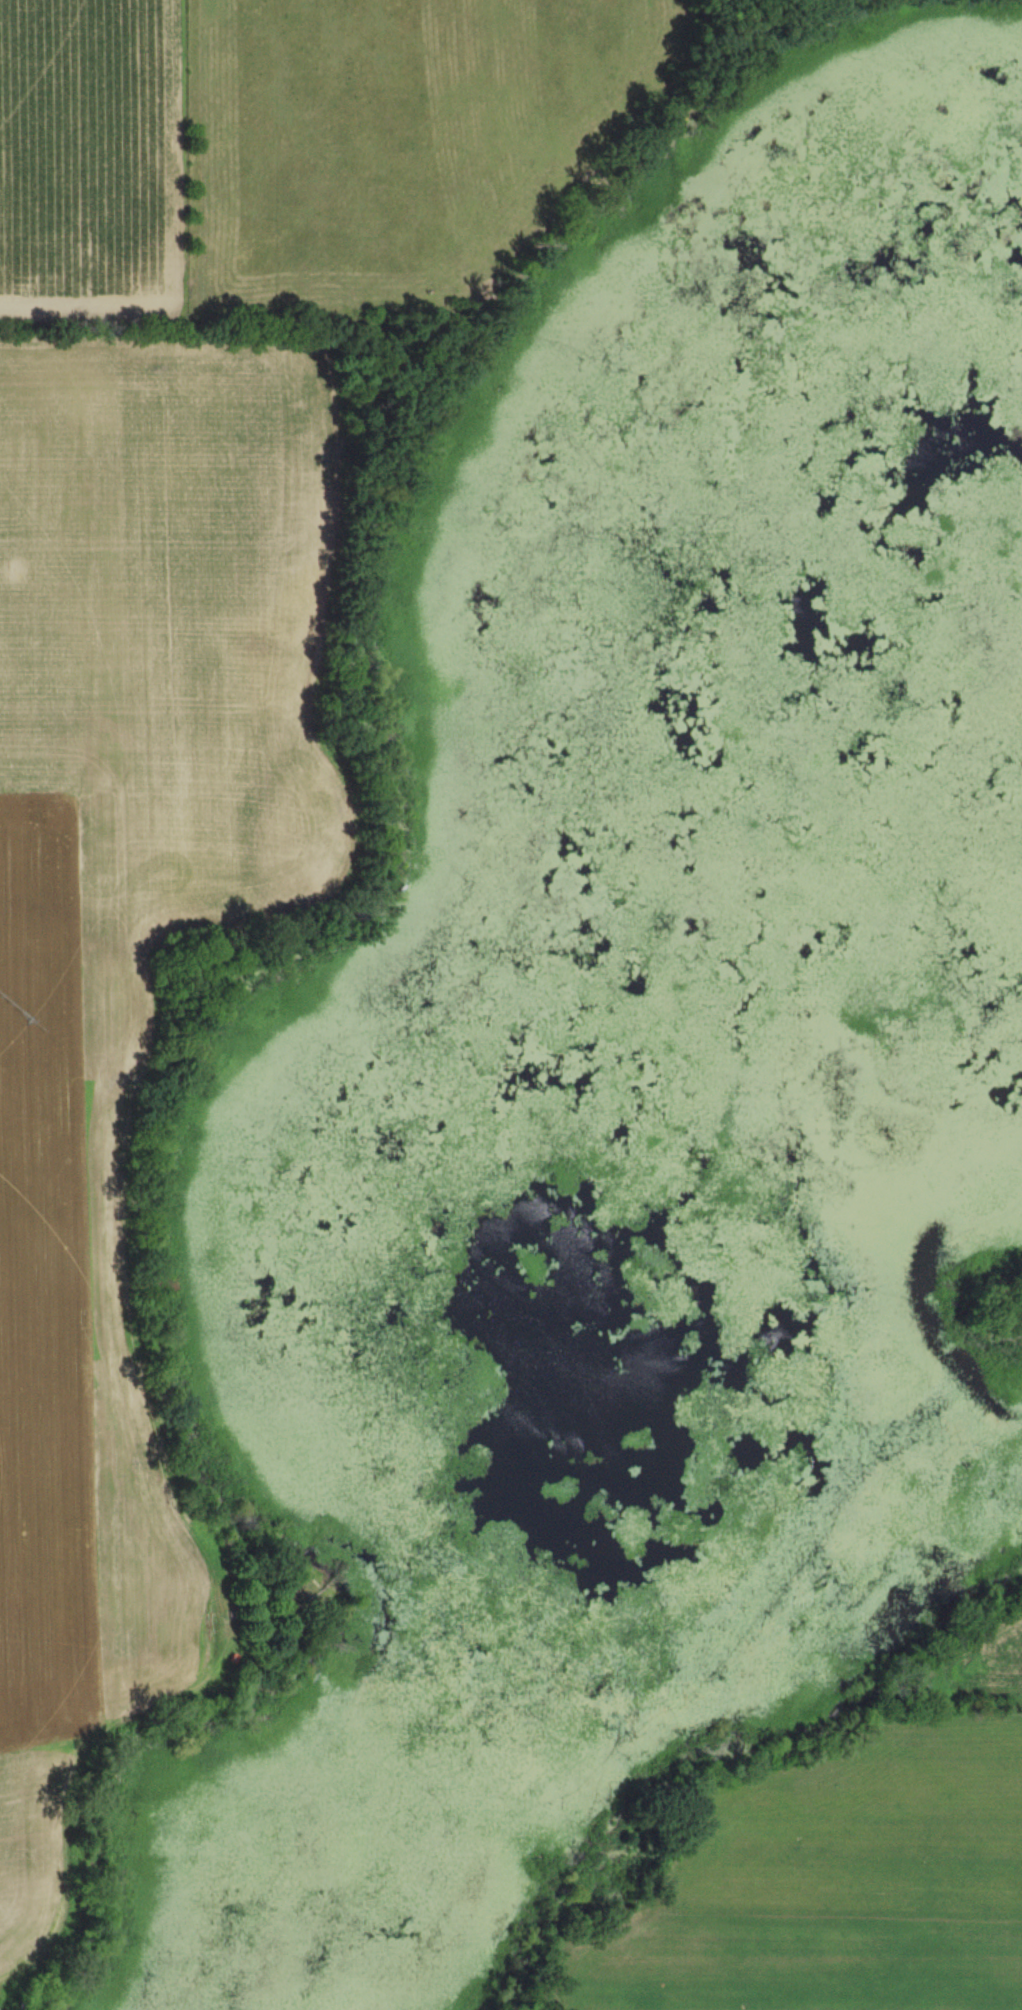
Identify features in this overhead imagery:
crop: (289, 145)

